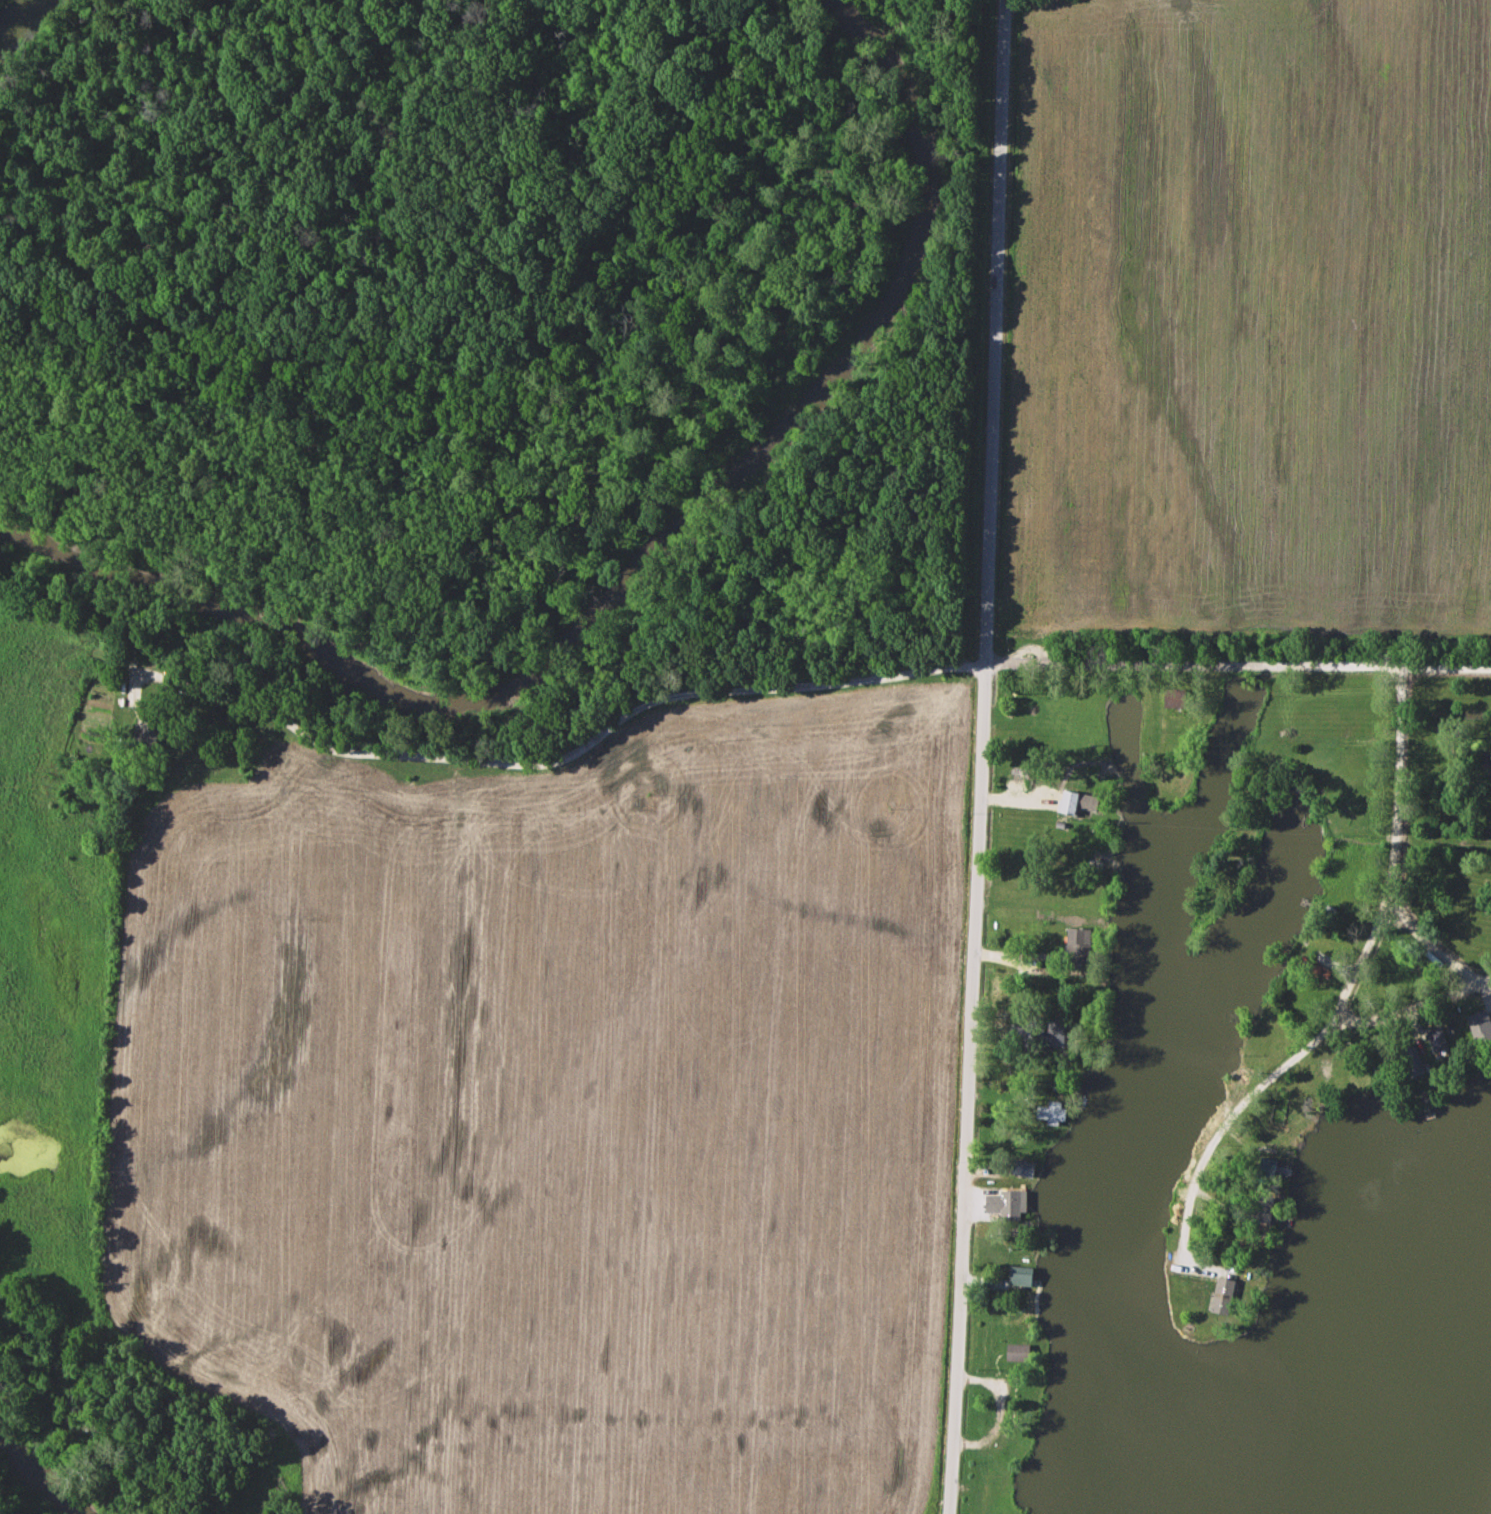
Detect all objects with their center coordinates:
river: (632, 570)
road: (1238, 666)
building: (1176, 699)
building: (149, 736)
road: (1327, 745)
road: (563, 757)
road: (981, 757)
building: (1080, 803)
building: (1081, 946)
road: (1430, 948)
road: (1349, 985)
road: (1417, 1010)
building: (1480, 1024)
building: (1039, 1031)
building: (1439, 1039)
building: (1414, 1061)
building: (1055, 1114)
building: (1025, 1169)
building: (1009, 1206)
building: (1263, 1210)
building: (1020, 1274)
building: (1225, 1296)
building: (1020, 1353)
river: (41, 1470)

